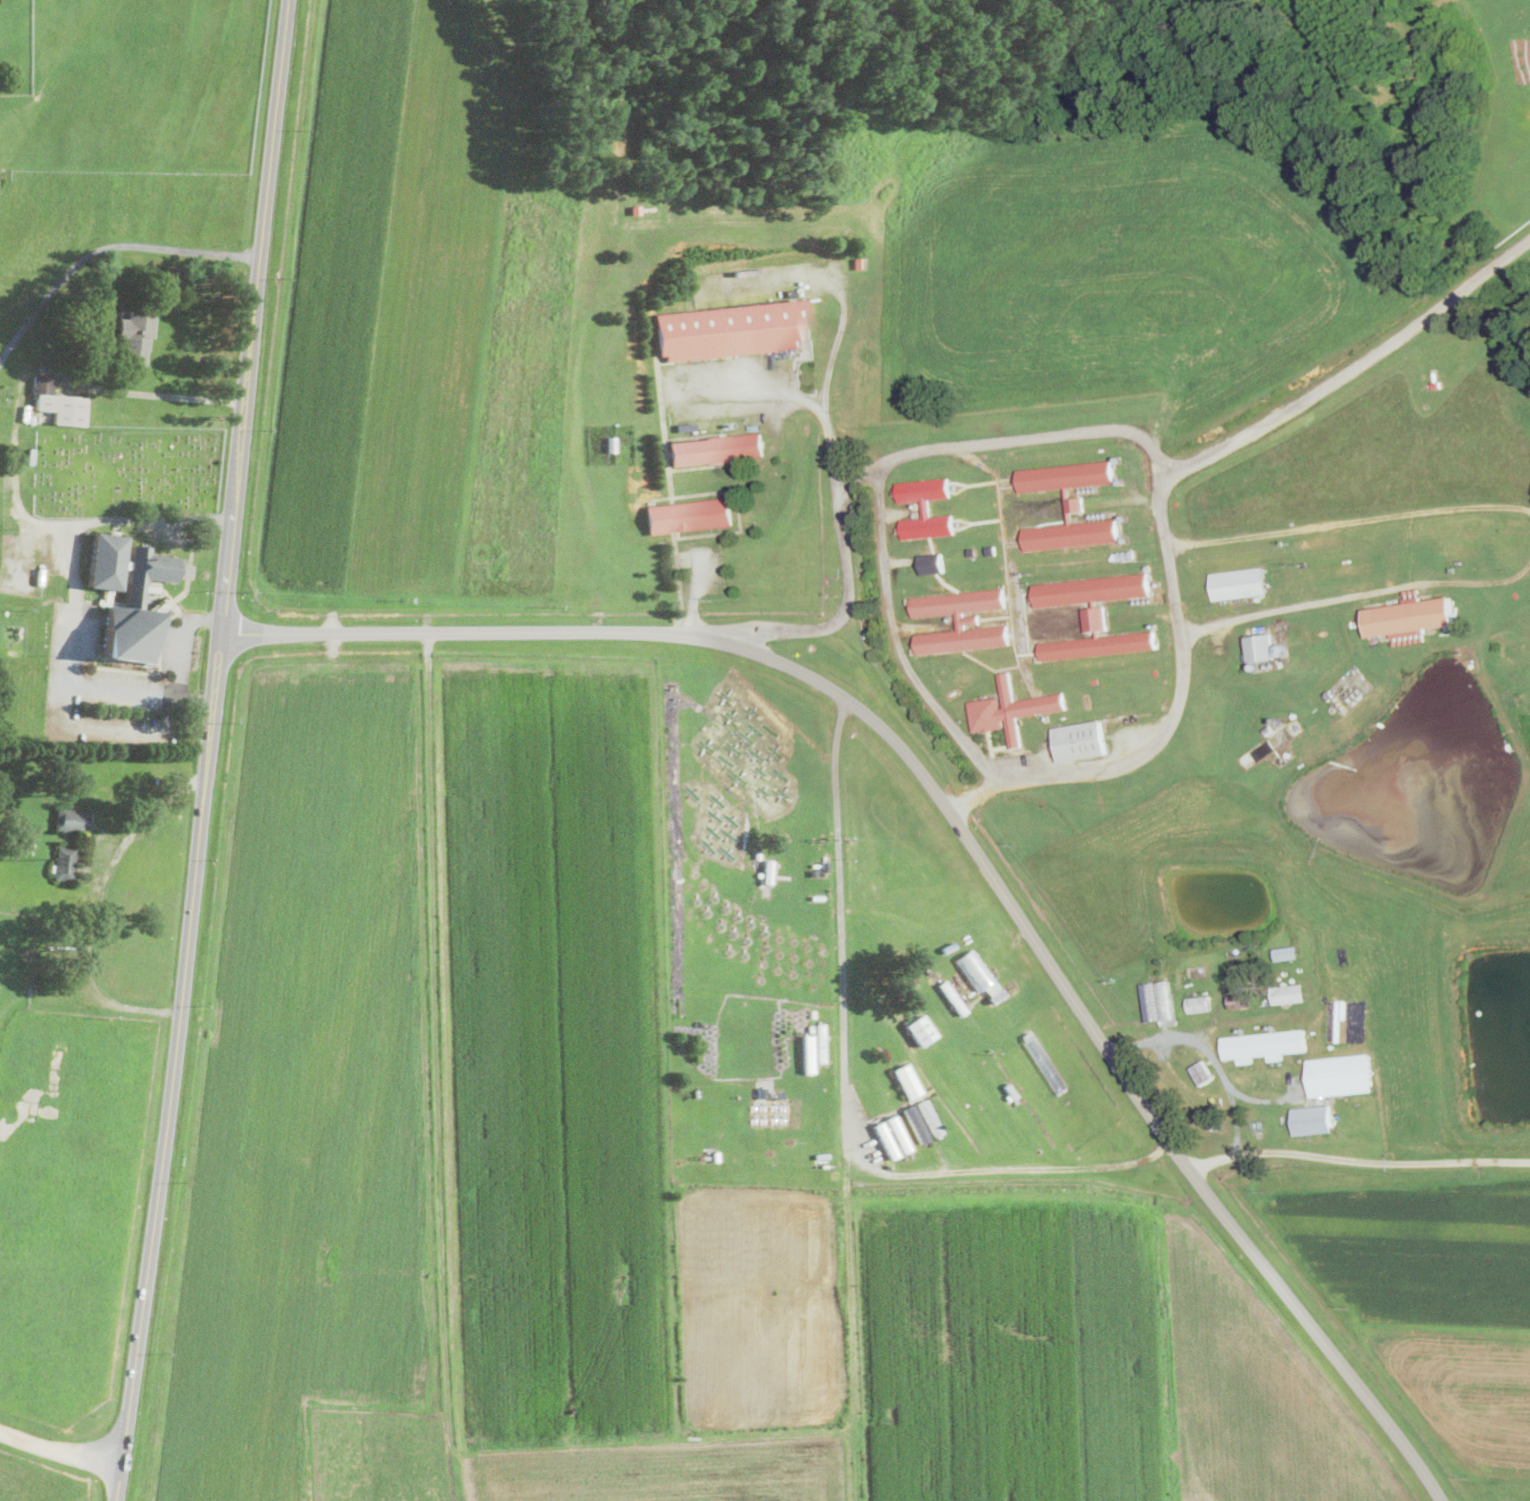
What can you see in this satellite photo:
building: (635, 208)
road: (104, 249)
building: (859, 262)
road: (833, 287)
building: (732, 328)
building: (137, 333)
road: (1351, 368)
building: (1436, 382)
road: (788, 393)
building: (57, 402)
road: (1128, 431)
road: (15, 436)
building: (612, 443)
building: (718, 448)
building: (1118, 459)
building: (1121, 481)
building: (1091, 489)
building: (1095, 489)
building: (1086, 490)
building: (1081, 491)
building: (915, 505)
building: (1069, 506)
building: (855, 507)
building: (927, 508)
road: (1524, 509)
building: (691, 514)
building: (1105, 514)
building: (1110, 514)
building: (1115, 514)
building: (1100, 515)
building: (1091, 516)
building: (1096, 516)
building: (1124, 517)
road: (1350, 524)
building: (1126, 539)
building: (992, 551)
building: (973, 552)
building: (1125, 556)
building: (933, 563)
building: (1305, 565)
building: (1148, 567)
building: (1239, 583)
building: (1158, 584)
building: (152, 587)
building: (1411, 590)
building: (128, 595)
building: (1148, 601)
building: (1143, 602)
road: (1356, 602)
building: (1132, 603)
building: (1137, 603)
building: (1094, 615)
building: (1409, 617)
building: (949, 618)
building: (961, 620)
building: (1155, 625)
road: (896, 640)
building: (1409, 640)
road: (73, 648)
building: (1261, 648)
building: (1281, 650)
building: (1459, 652)
road: (180, 658)
building: (1255, 666)
building: (1329, 694)
building: (1011, 710)
building: (1047, 718)
road: (84, 722)
building: (1269, 728)
building: (1080, 741)
road: (206, 751)
crop: (777, 764)
building: (159, 780)
building: (72, 819)
road: (965, 832)
building: (757, 855)
building: (65, 863)
building: (780, 863)
building: (768, 867)
building: (818, 868)
building: (861, 885)
building: (857, 890)
building: (766, 891)
road: (97, 904)
building: (949, 947)
building: (1287, 953)
building: (975, 969)
building: (960, 982)
building: (995, 993)
building: (1290, 994)
building: (951, 997)
building: (1243, 1001)
building: (1159, 1002)
building: (1197, 1004)
building: (809, 1019)
building: (920, 1030)
building: (807, 1045)
building: (1265, 1045)
road: (1211, 1050)
building: (1201, 1072)
building: (1341, 1074)
building: (907, 1080)
road: (844, 1087)
building: (1010, 1091)
building: (762, 1092)
building: (779, 1094)
building: (930, 1118)
building: (1313, 1118)
building: (916, 1124)
building: (884, 1139)
road: (1358, 1161)
road: (59, 1450)

